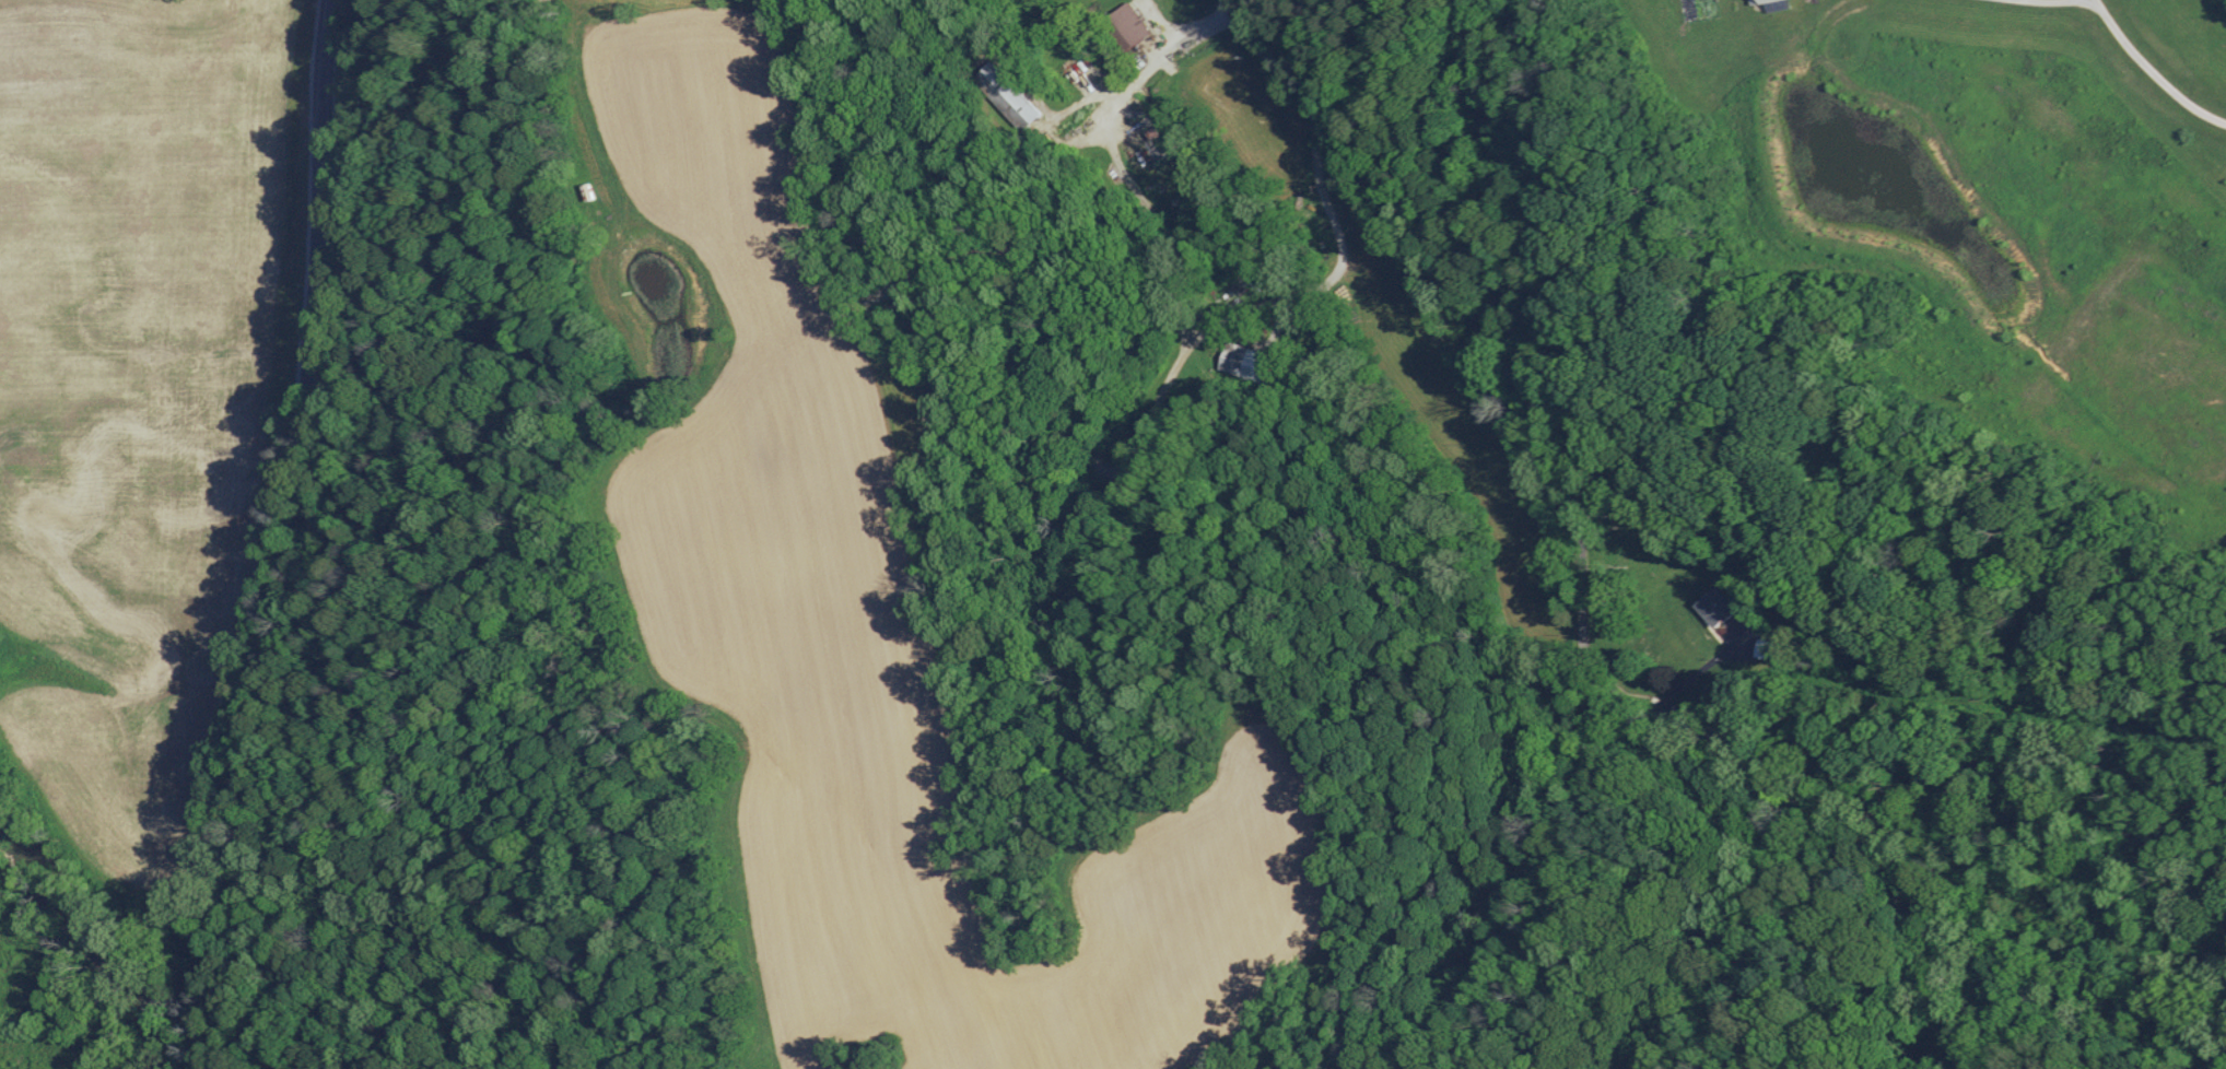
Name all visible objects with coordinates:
building: (1757, 1)
road: (2097, 2)
building: (1128, 23)
road: (2130, 48)
building: (1008, 95)
road: (1336, 222)
building: (1250, 362)
road: (282, 534)
building: (1717, 606)
road: (1583, 650)
road: (1697, 671)
river: (89, 927)

